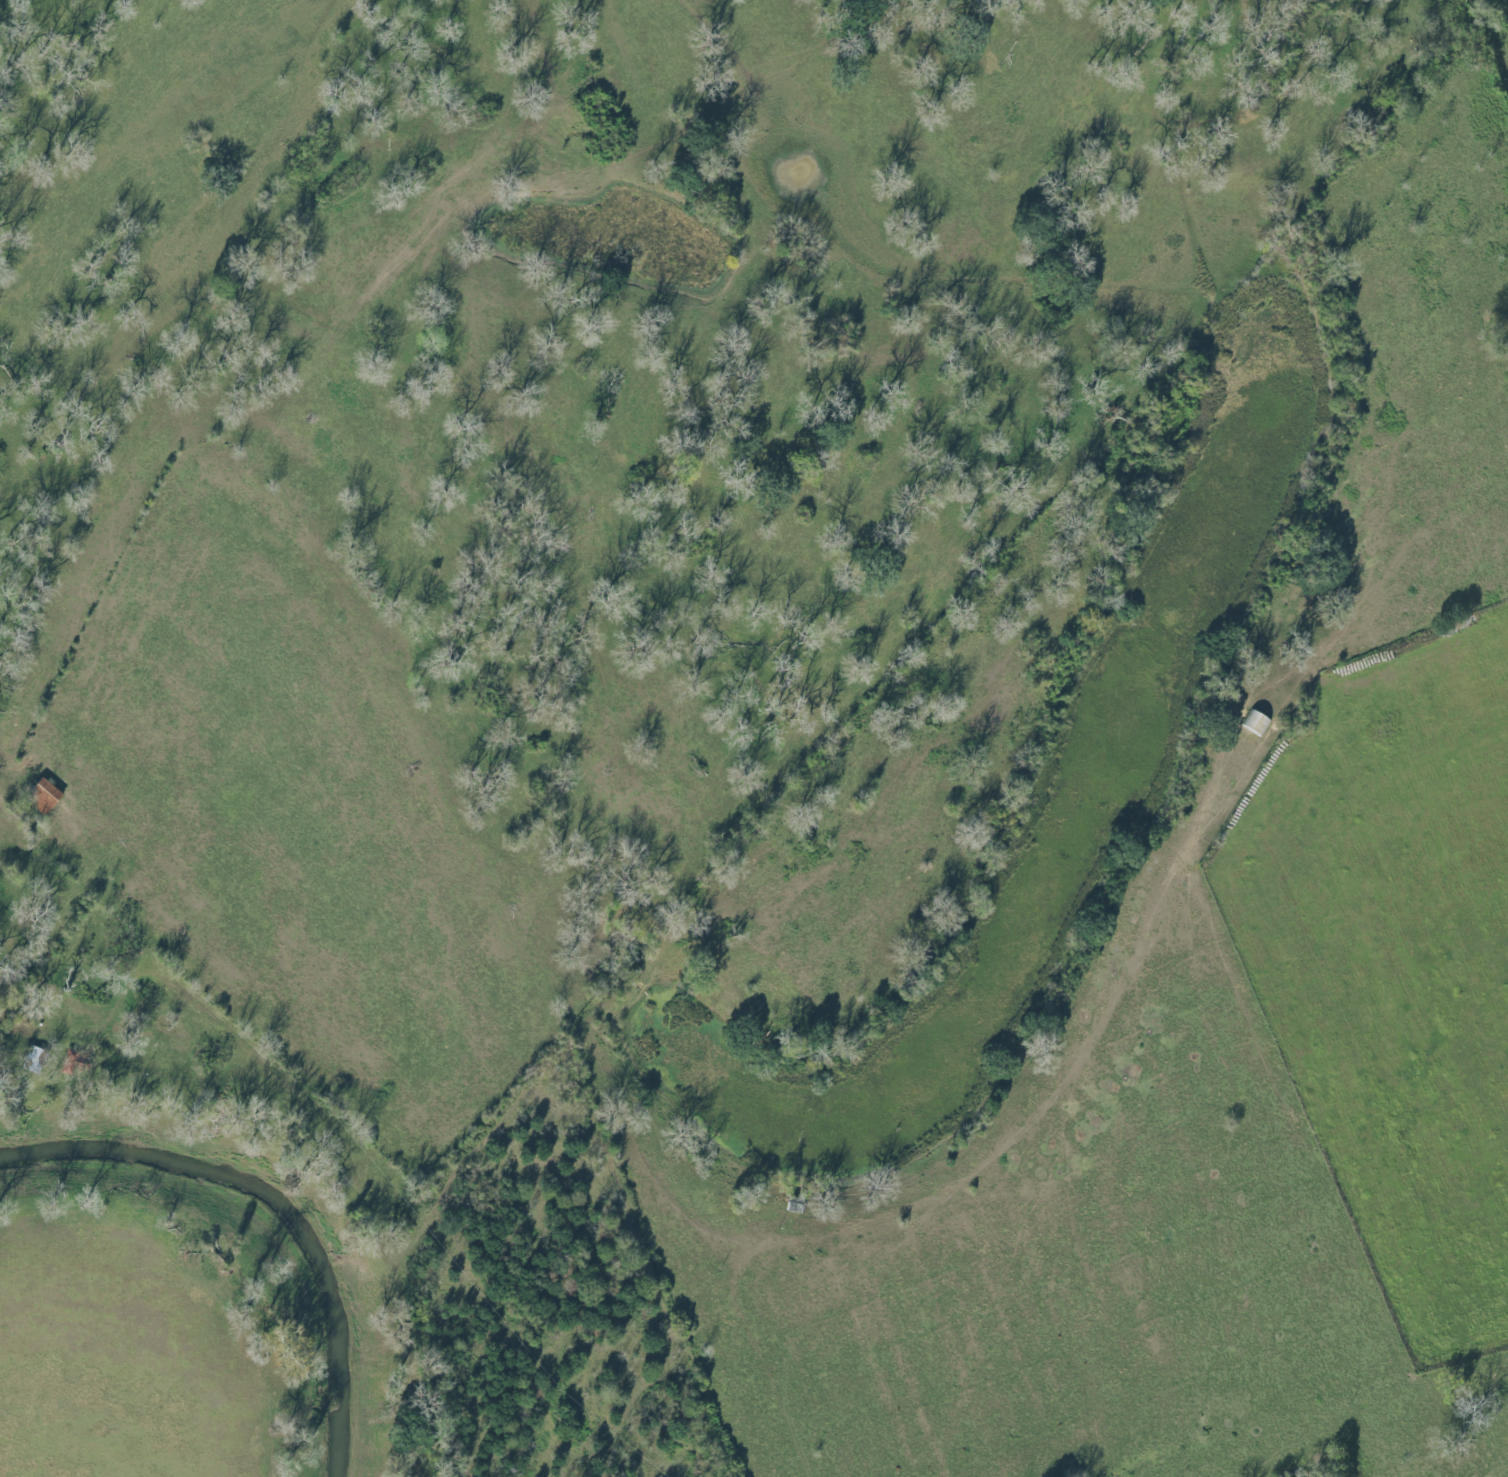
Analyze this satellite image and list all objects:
building: (1258, 724)
building: (43, 798)
building: (36, 1061)
building: (72, 1064)
road: (355, 1177)
river: (281, 1200)
building: (796, 1204)

